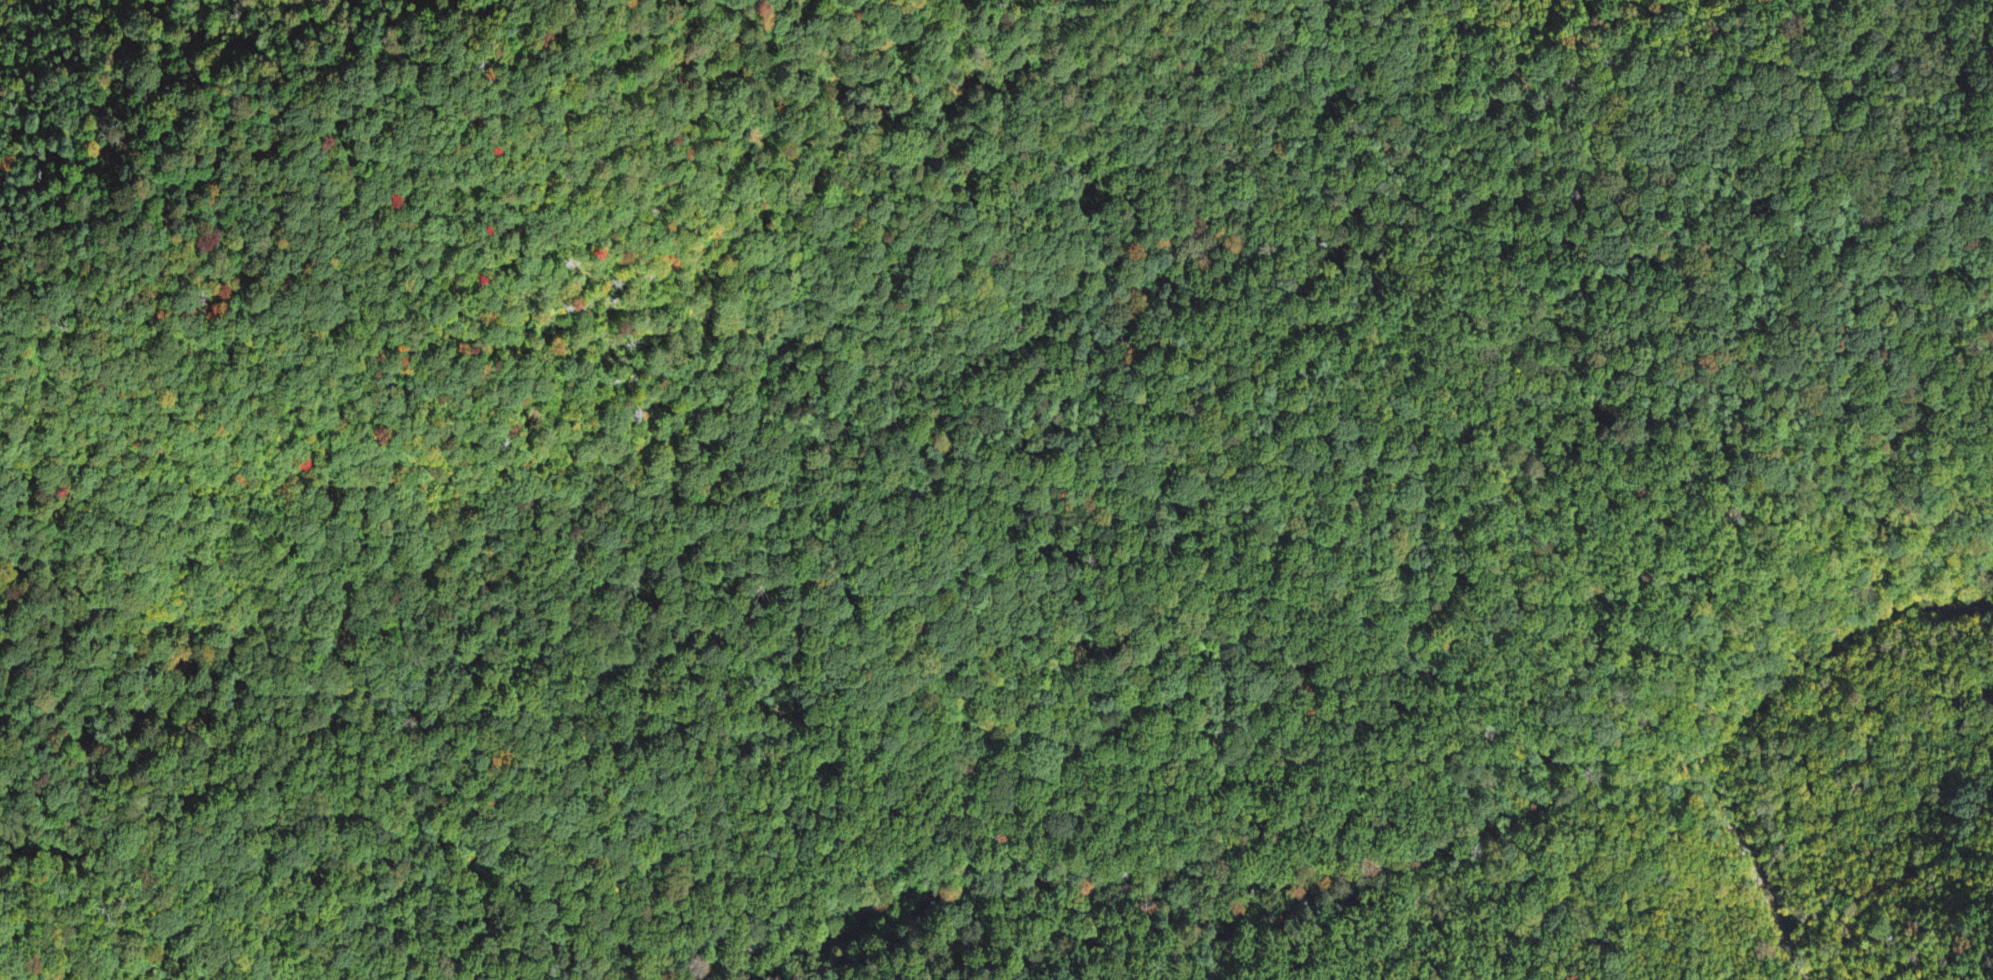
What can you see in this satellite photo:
river: (1820, 657)
road: (1775, 747)
river: (1776, 895)

